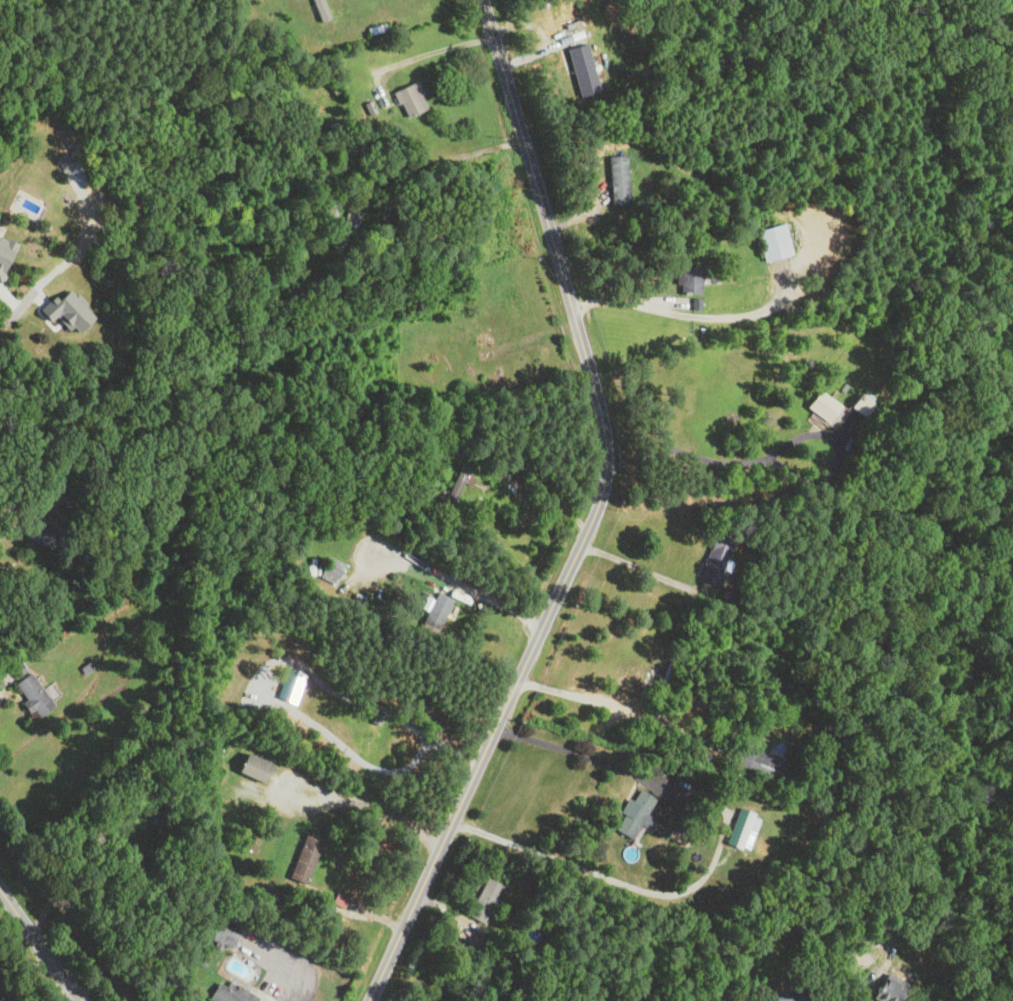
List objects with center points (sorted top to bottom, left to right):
road: (435, 52)
building: (407, 99)
building: (44, 136)
road: (448, 156)
building: (616, 179)
building: (13, 235)
building: (688, 279)
building: (109, 282)
road: (627, 301)
road: (10, 314)
building: (51, 321)
building: (460, 351)
building: (834, 412)
road: (785, 439)
road: (595, 514)
building: (39, 533)
building: (331, 570)
road: (649, 570)
road: (477, 592)
building: (435, 613)
road: (1, 688)
building: (31, 695)
building: (715, 695)
road: (625, 708)
building: (368, 733)
building: (759, 763)
building: (250, 767)
road: (366, 805)
building: (634, 818)
road: (716, 855)
building: (304, 858)
building: (482, 900)
building: (220, 933)
road: (39, 949)
building: (886, 992)
building: (229, 993)
building: (784, 995)
road: (297, 997)
road: (862, 997)

